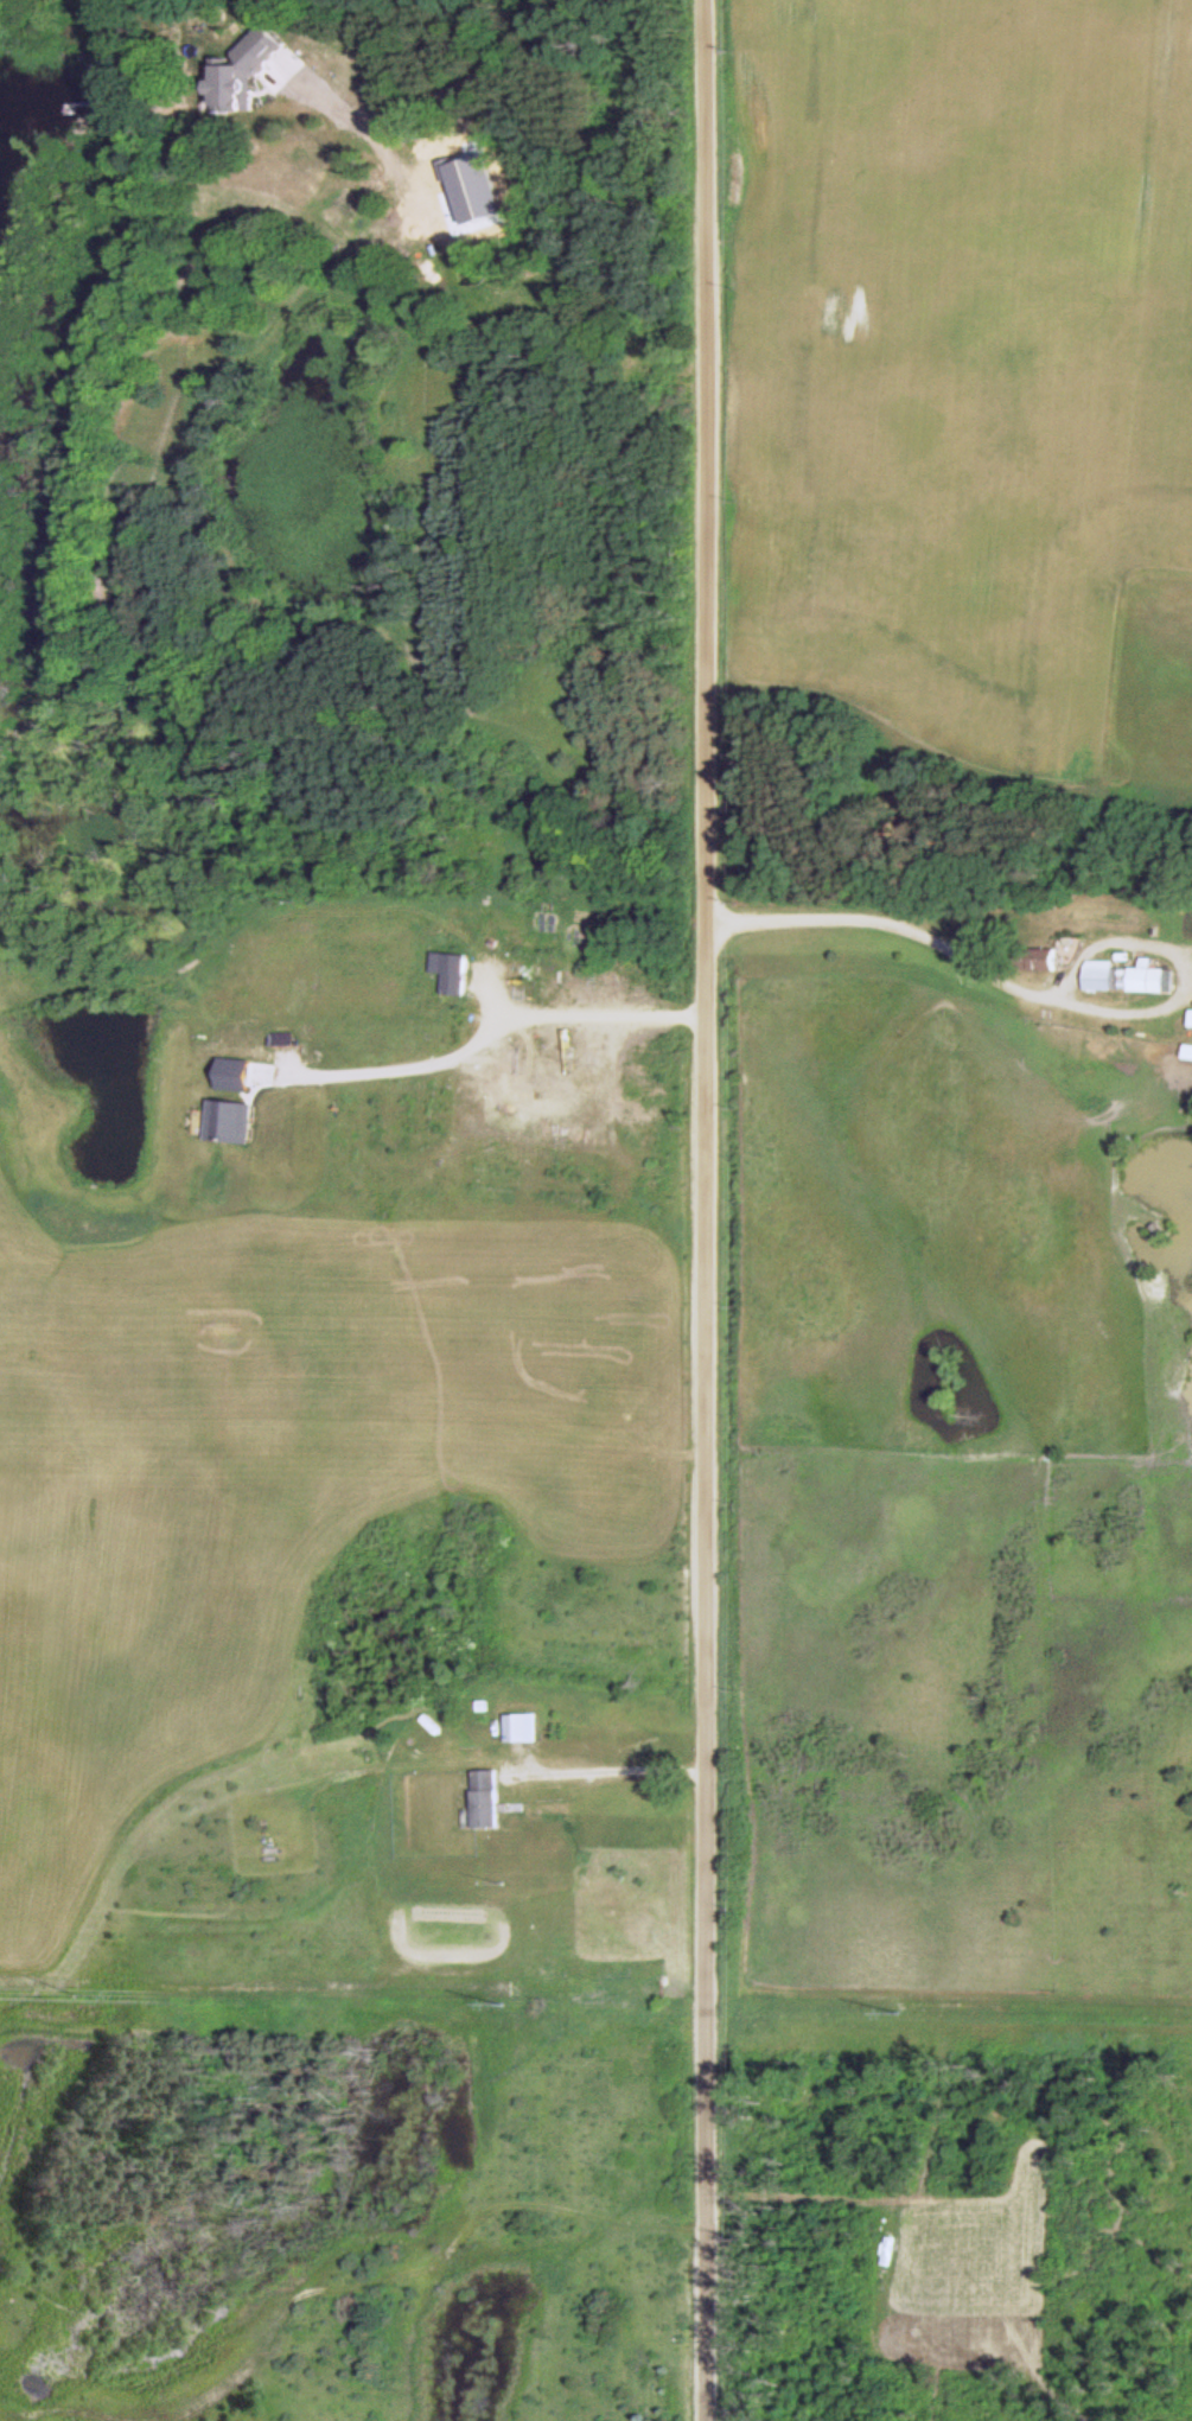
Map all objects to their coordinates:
building: (186, 34)
building: (1037, 958)
building: (454, 974)
building: (1101, 975)
building: (1152, 977)
building: (1191, 1019)
building: (228, 1121)
road: (706, 1210)
building: (521, 1727)
building: (484, 1798)

